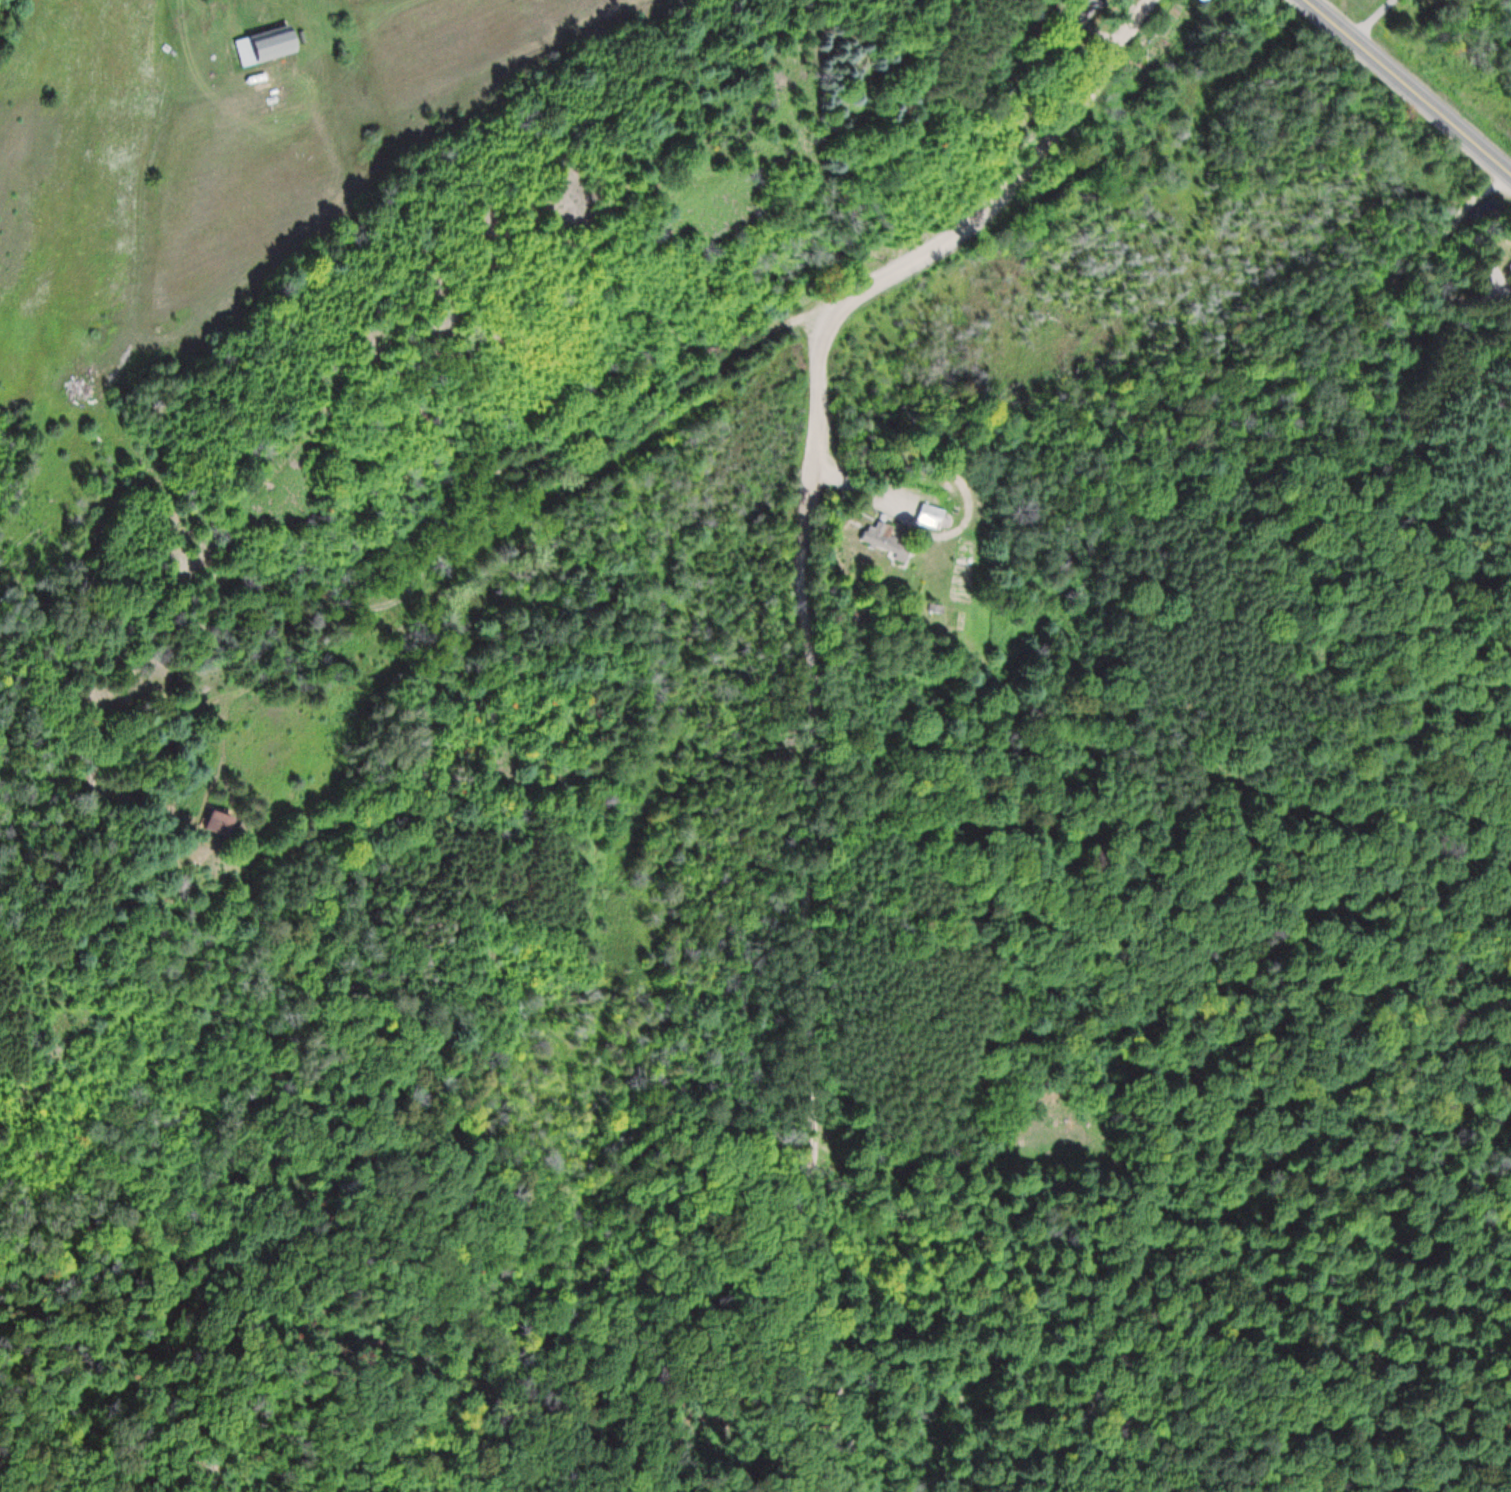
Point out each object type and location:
building: (269, 46)
road: (1407, 88)
building: (1510, 253)
building: (1509, 266)
road: (492, 487)
building: (931, 517)
building: (886, 542)
road: (810, 676)

